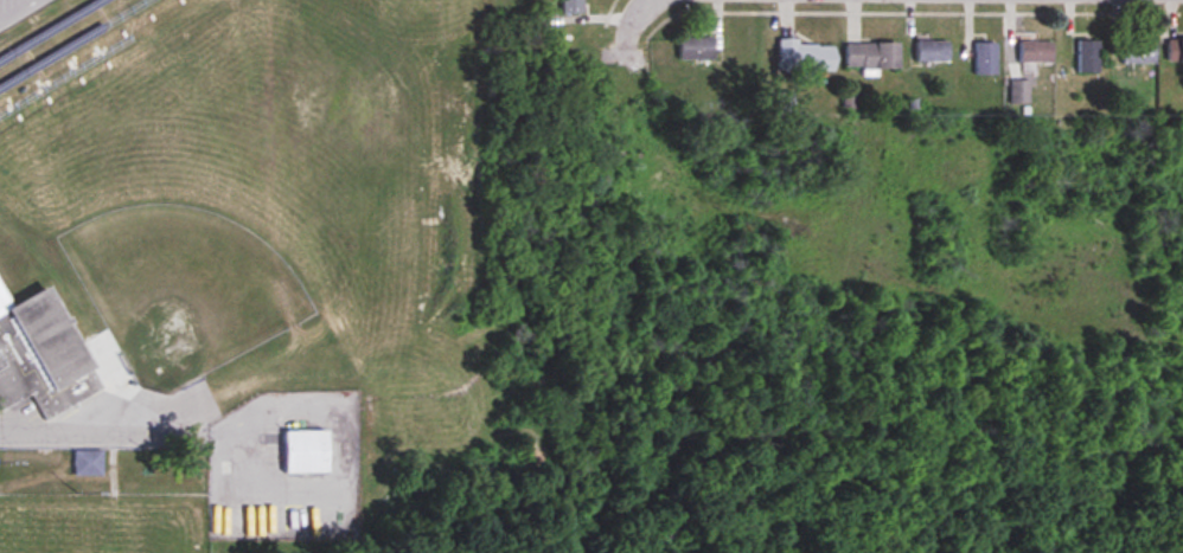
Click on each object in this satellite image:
building: (575, 6)
road: (14, 8)
road: (634, 19)
building: (699, 49)
building: (933, 51)
building: (1037, 52)
building: (1175, 52)
building: (1139, 53)
building: (874, 54)
building: (807, 56)
building: (1088, 57)
building: (986, 59)
building: (41, 353)
road: (75, 419)
building: (307, 451)
building: (89, 463)

